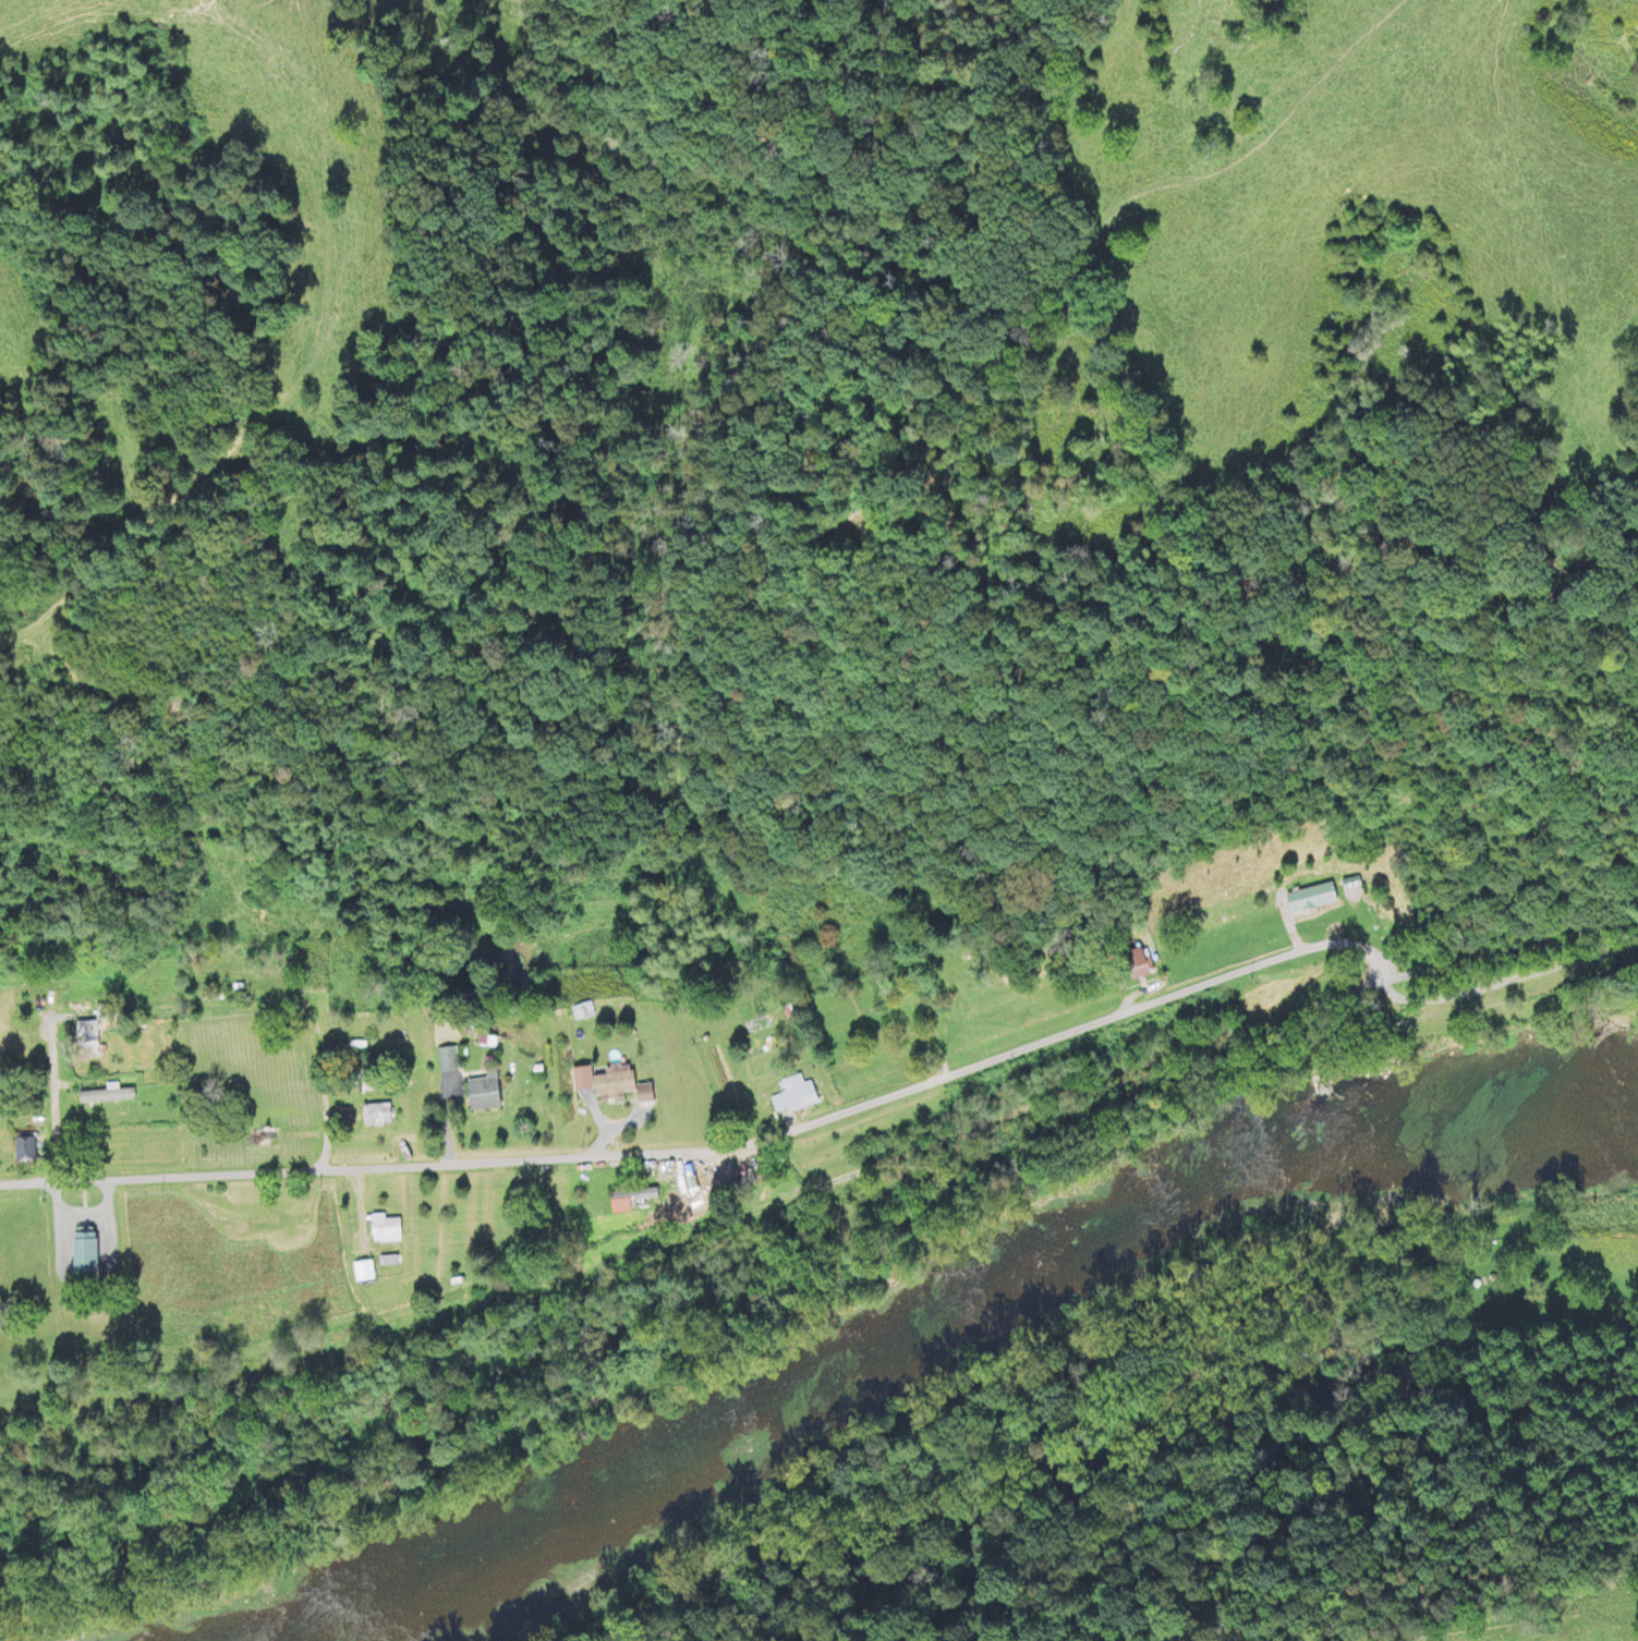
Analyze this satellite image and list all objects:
building: (1309, 898)
road: (1513, 948)
building: (1136, 964)
building: (232, 980)
building: (85, 1040)
building: (445, 1059)
building: (284, 1071)
building: (611, 1084)
building: (482, 1092)
building: (792, 1096)
road: (48, 1107)
road: (845, 1108)
building: (374, 1115)
building: (260, 1138)
building: (23, 1150)
building: (628, 1199)
road: (701, 1227)
building: (383, 1229)
building: (82, 1253)
building: (362, 1272)
river: (924, 1326)

